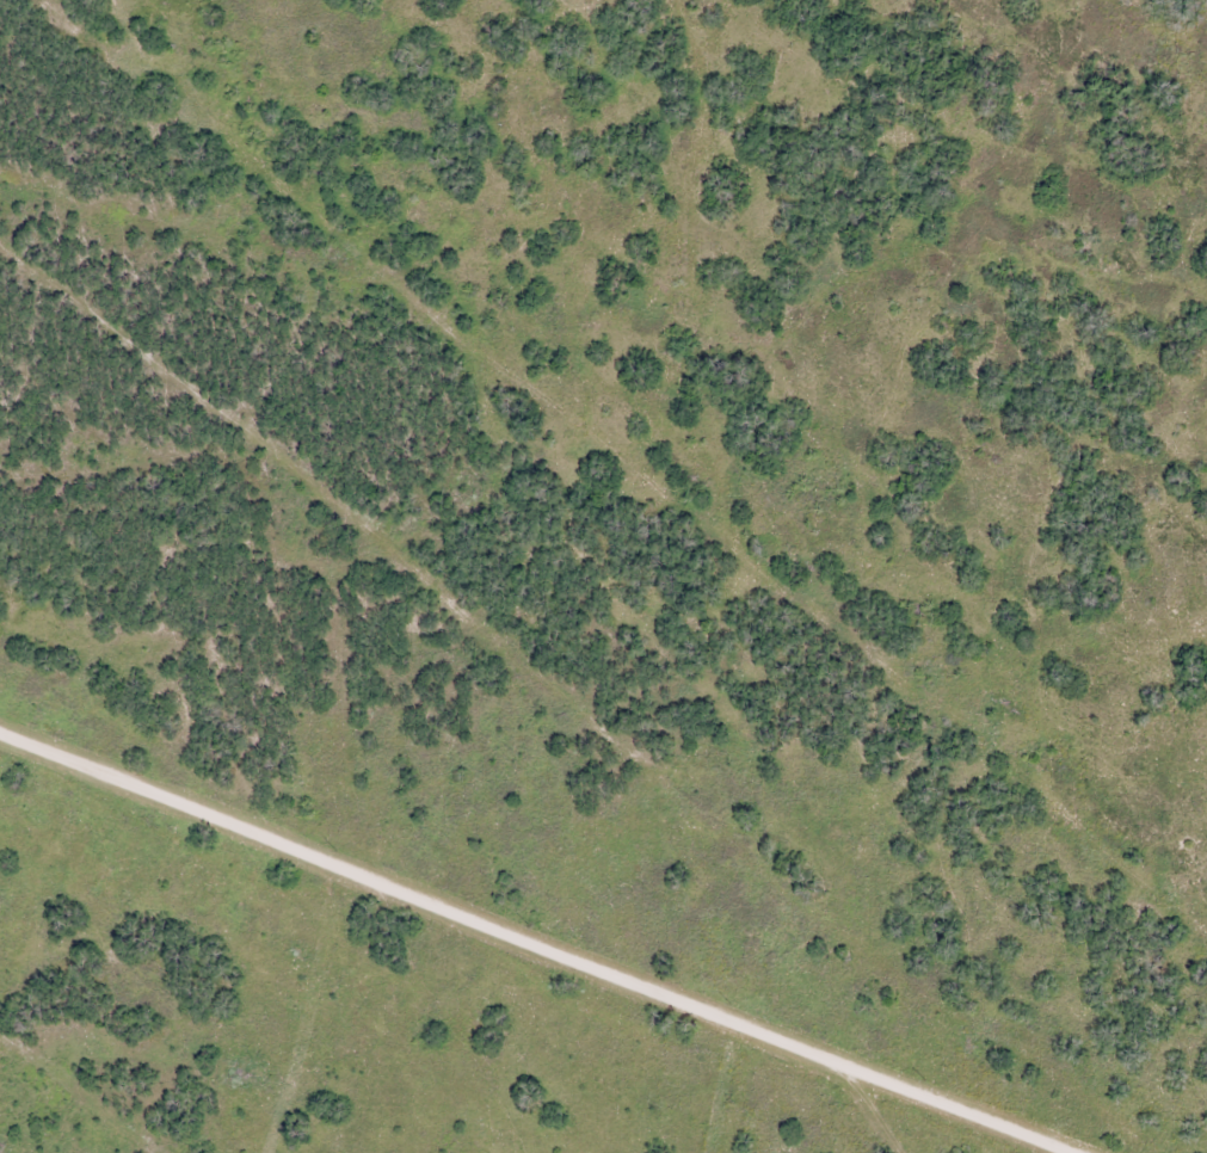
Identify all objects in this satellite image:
road: (531, 943)

